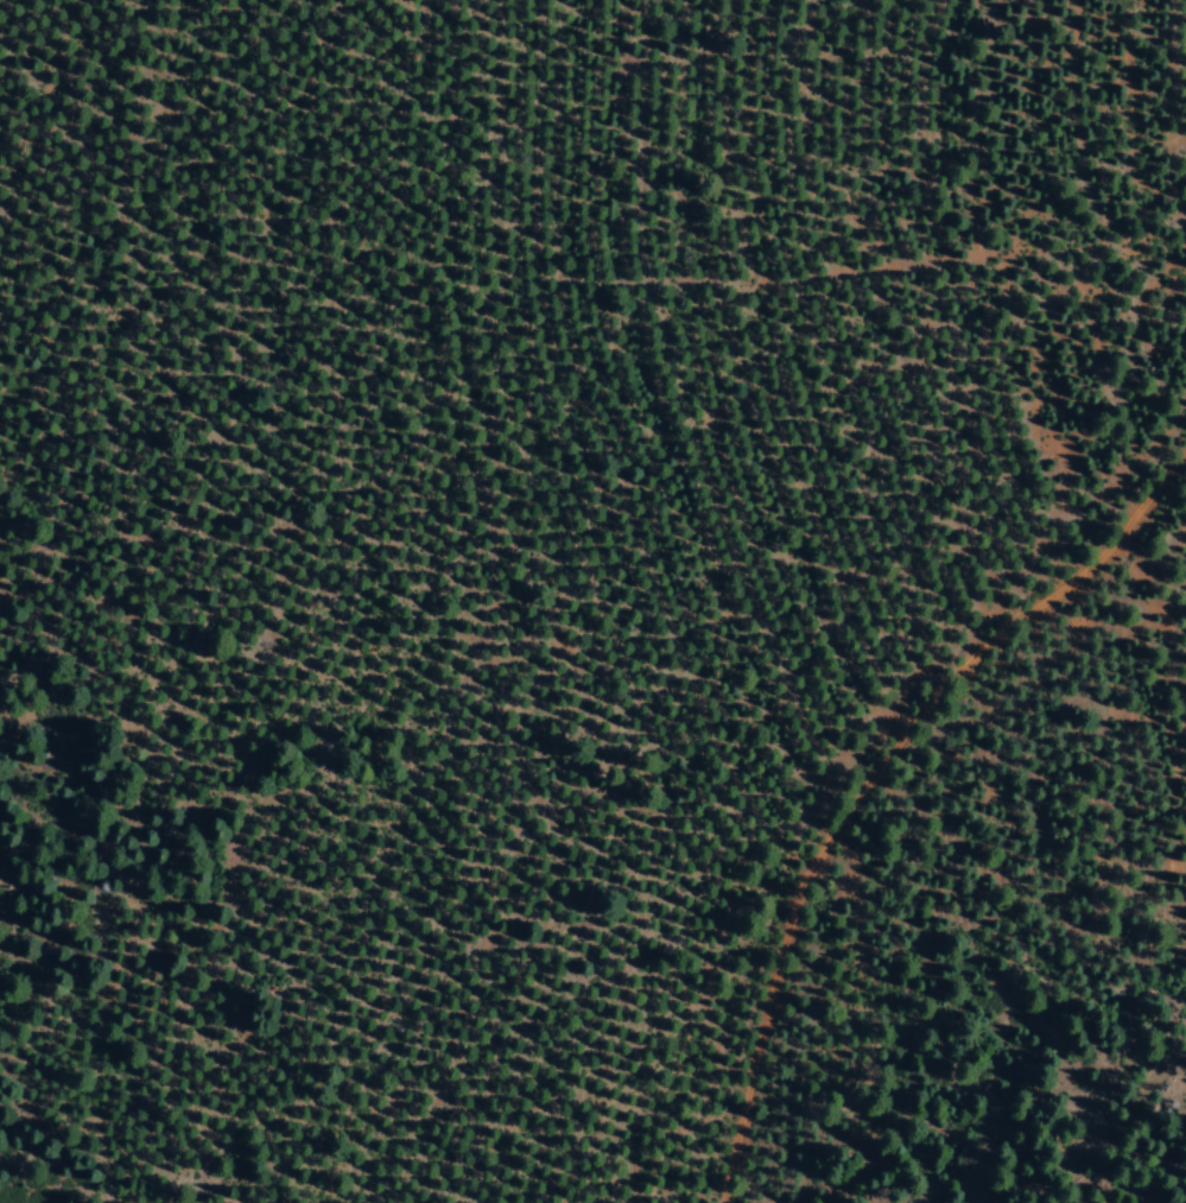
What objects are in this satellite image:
road: (884, 783)

